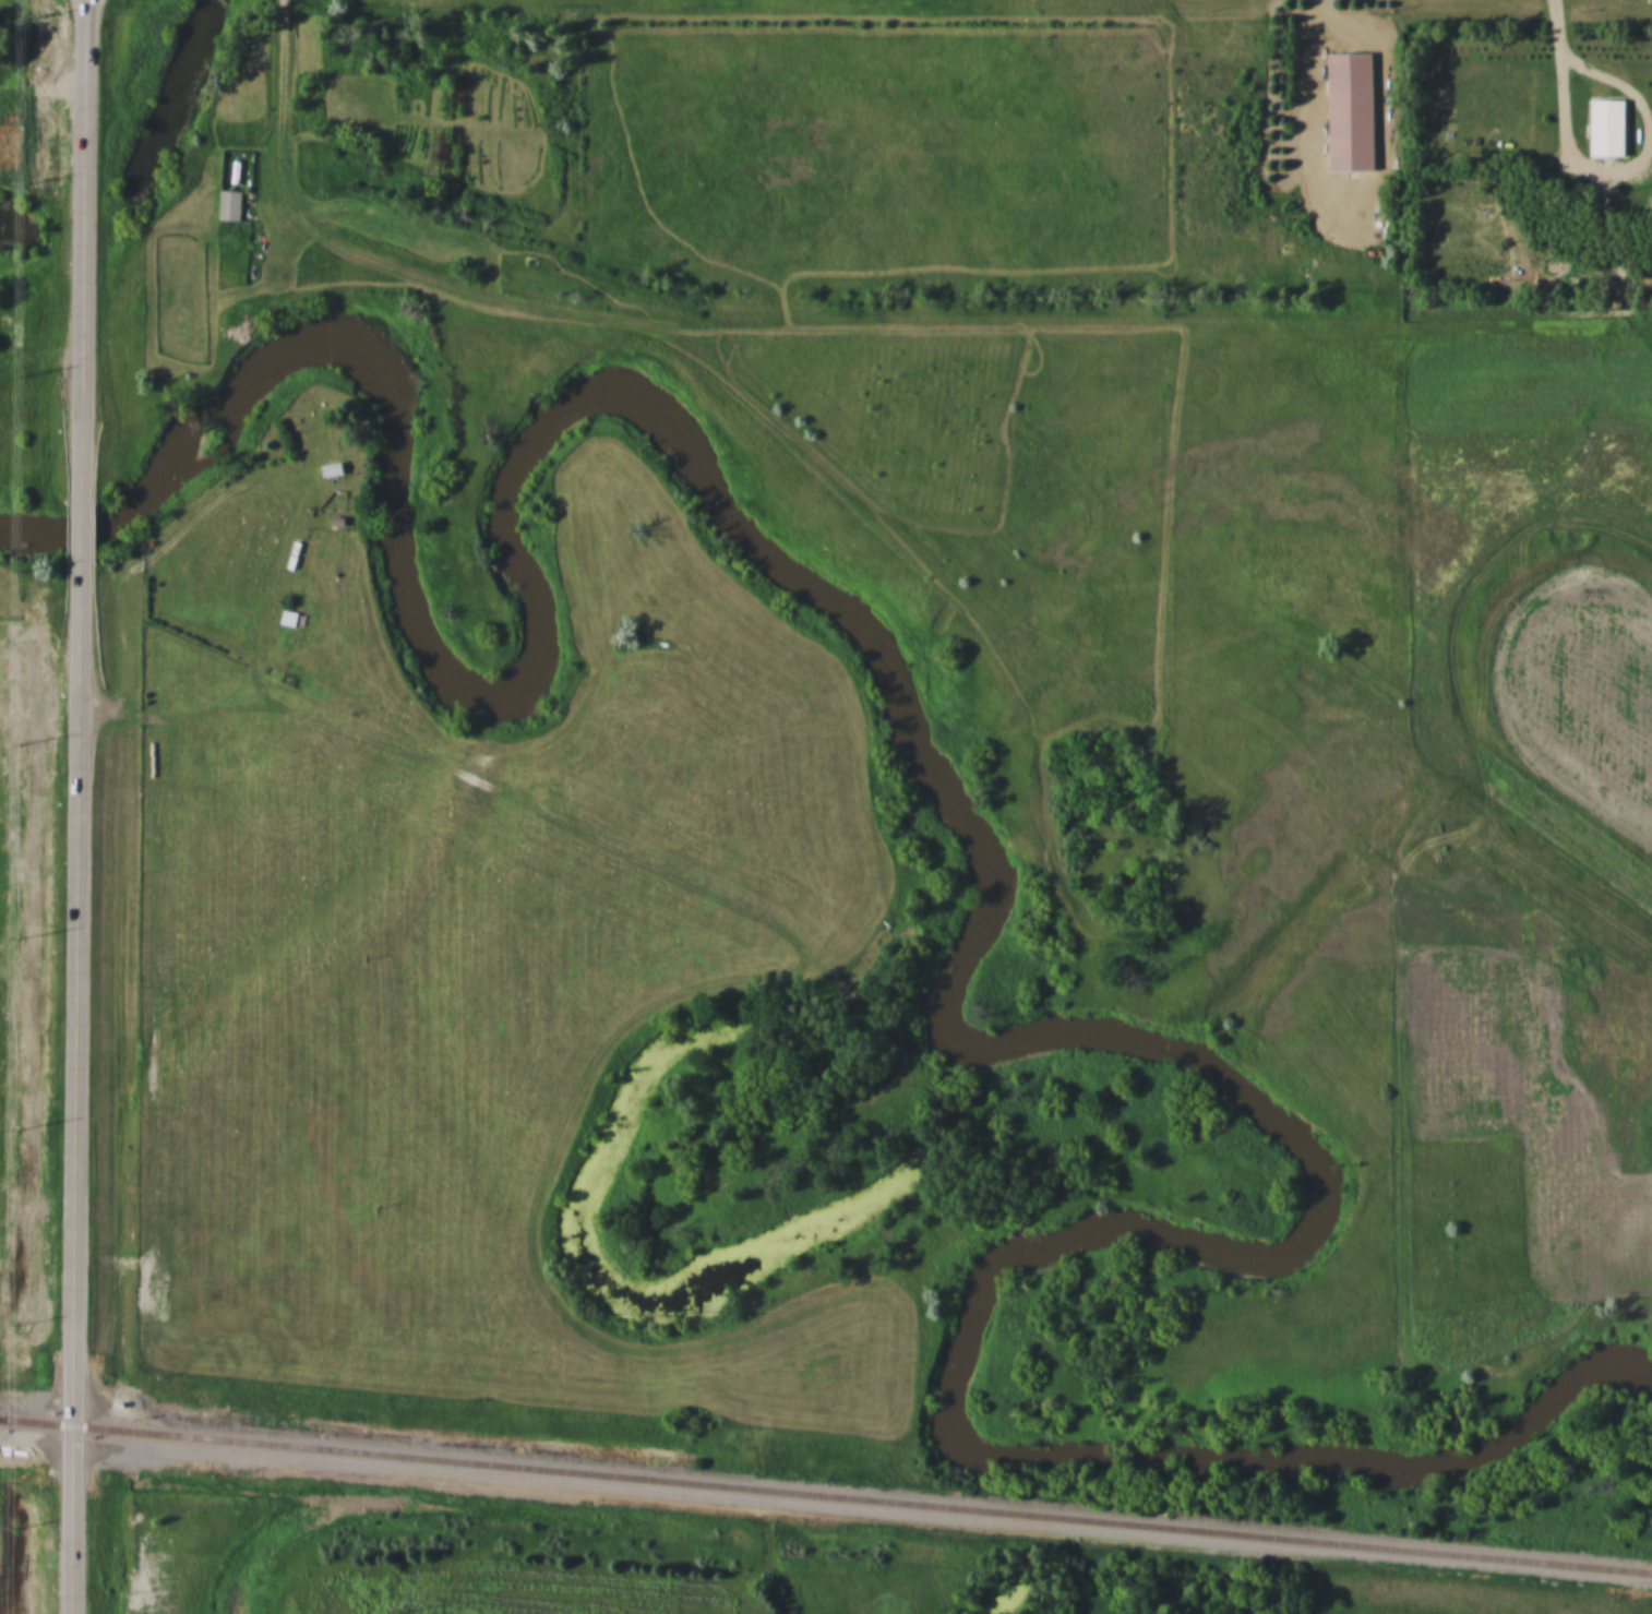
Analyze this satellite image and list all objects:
river: (206, 9)
road: (1563, 15)
road: (282, 77)
road: (1317, 94)
river: (175, 105)
building: (1349, 110)
building: (1605, 127)
road: (1632, 168)
building: (234, 204)
river: (95, 214)
river: (24, 229)
road: (82, 256)
building: (335, 469)
building: (342, 522)
road: (80, 540)
river: (1002, 893)
road: (75, 1090)
railway: (826, 1494)

